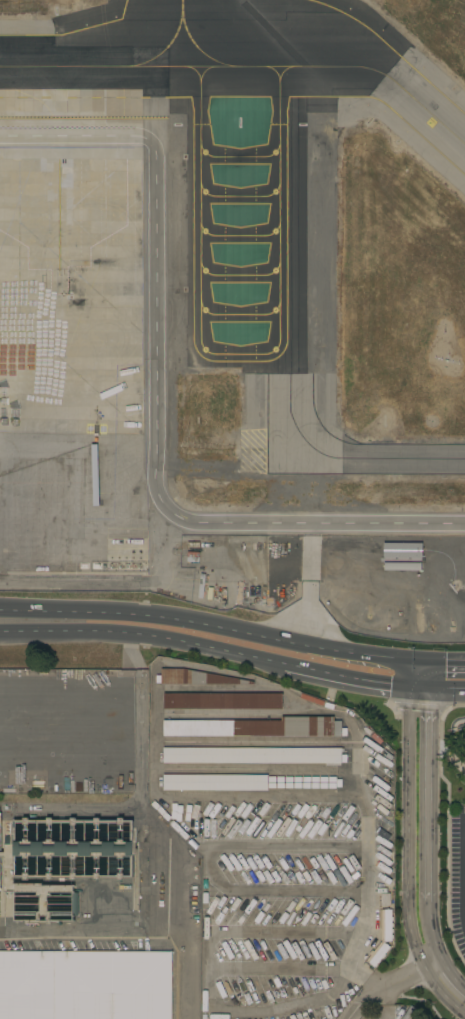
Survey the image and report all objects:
airport taxiway: (181, 33)
airport taxiway: (190, 66)
airport taxiway: (422, 105)
airport: (236, 306)
road: (160, 400)
airport taxiway: (393, 460)
building: (431, 551)
building: (431, 573)
building: (446, 603)
road: (209, 622)
road: (143, 637)
road: (441, 660)
road: (198, 667)
road: (416, 676)
building: (194, 678)
road: (350, 679)
road: (220, 689)
road: (440, 691)
building: (222, 701)
road: (251, 712)
fountain: (459, 722)
building: (255, 727)
road: (257, 742)
building: (254, 755)
road: (236, 768)
road: (138, 780)
building: (215, 782)
road: (325, 796)
road: (422, 798)
road: (407, 831)
building: (63, 862)
road: (210, 866)
parking lot: (285, 902)
road: (75, 930)
road: (427, 934)
building: (382, 938)
road: (209, 947)
road: (356, 947)
road: (182, 964)
building: (85, 985)
road: (447, 986)
road: (387, 987)
road: (385, 1004)
road: (269, 1010)
parking lot: (387, 1012)

